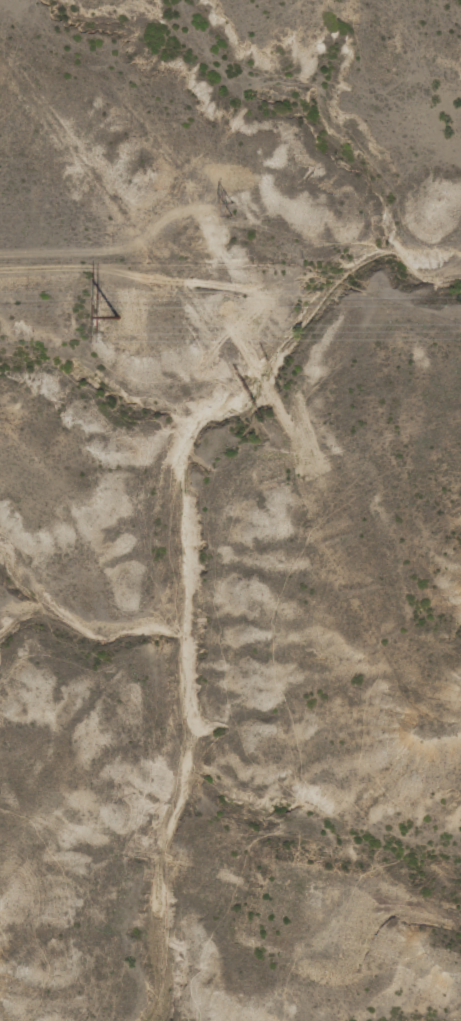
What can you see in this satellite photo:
power tower: (231, 208)
power tower: (119, 317)

